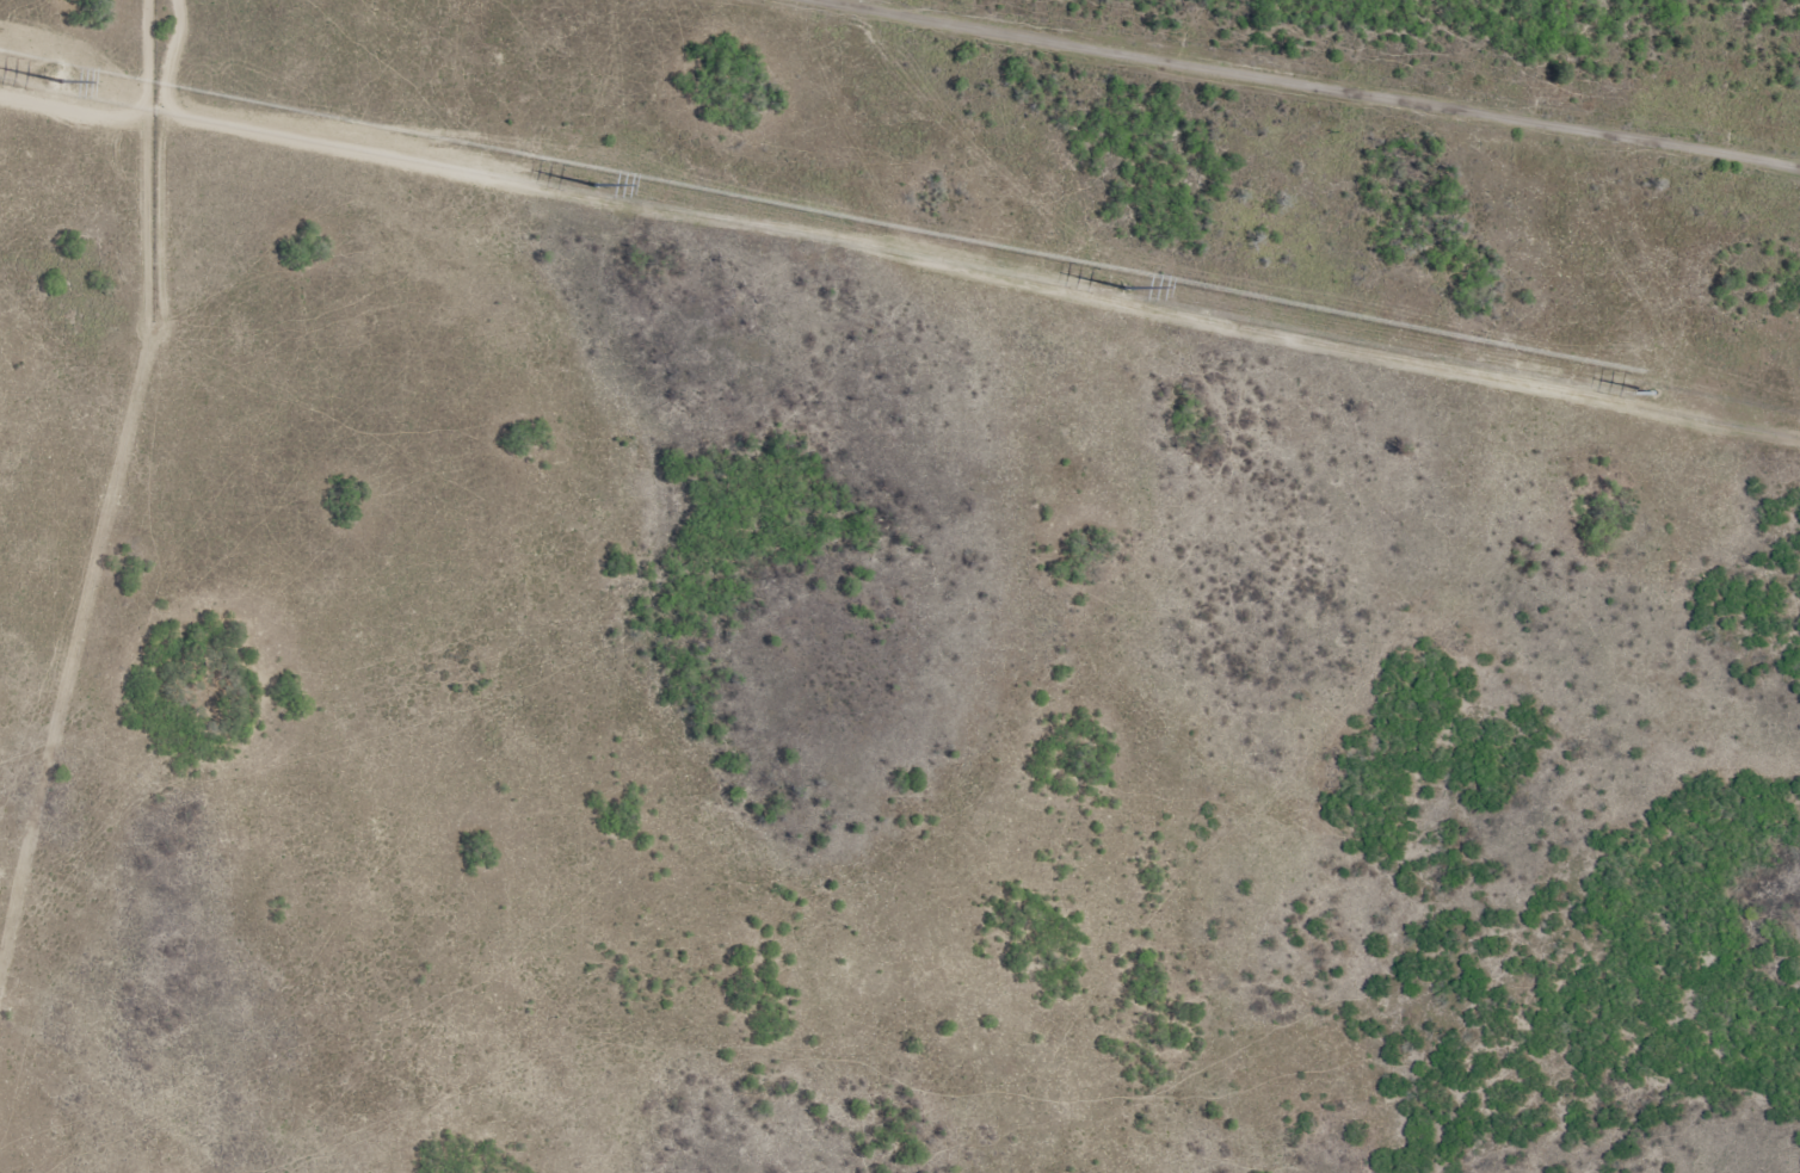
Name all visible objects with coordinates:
road: (1333, 80)
power tower: (73, 82)
power tower: (604, 183)
power tower: (1127, 291)
power tower: (1659, 395)

